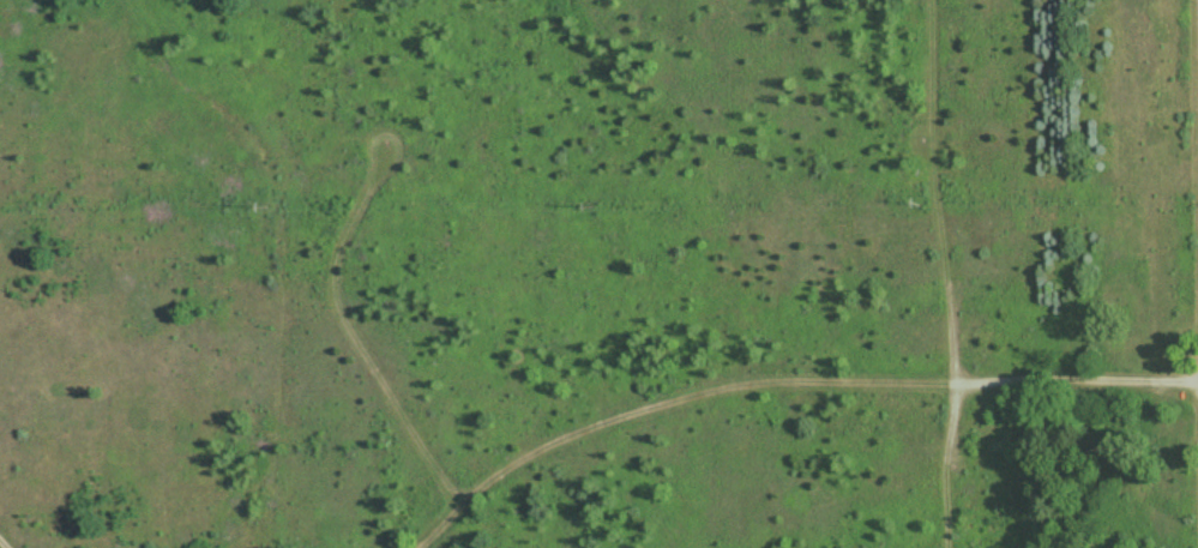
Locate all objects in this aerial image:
road: (997, 389)
road: (6, 540)

